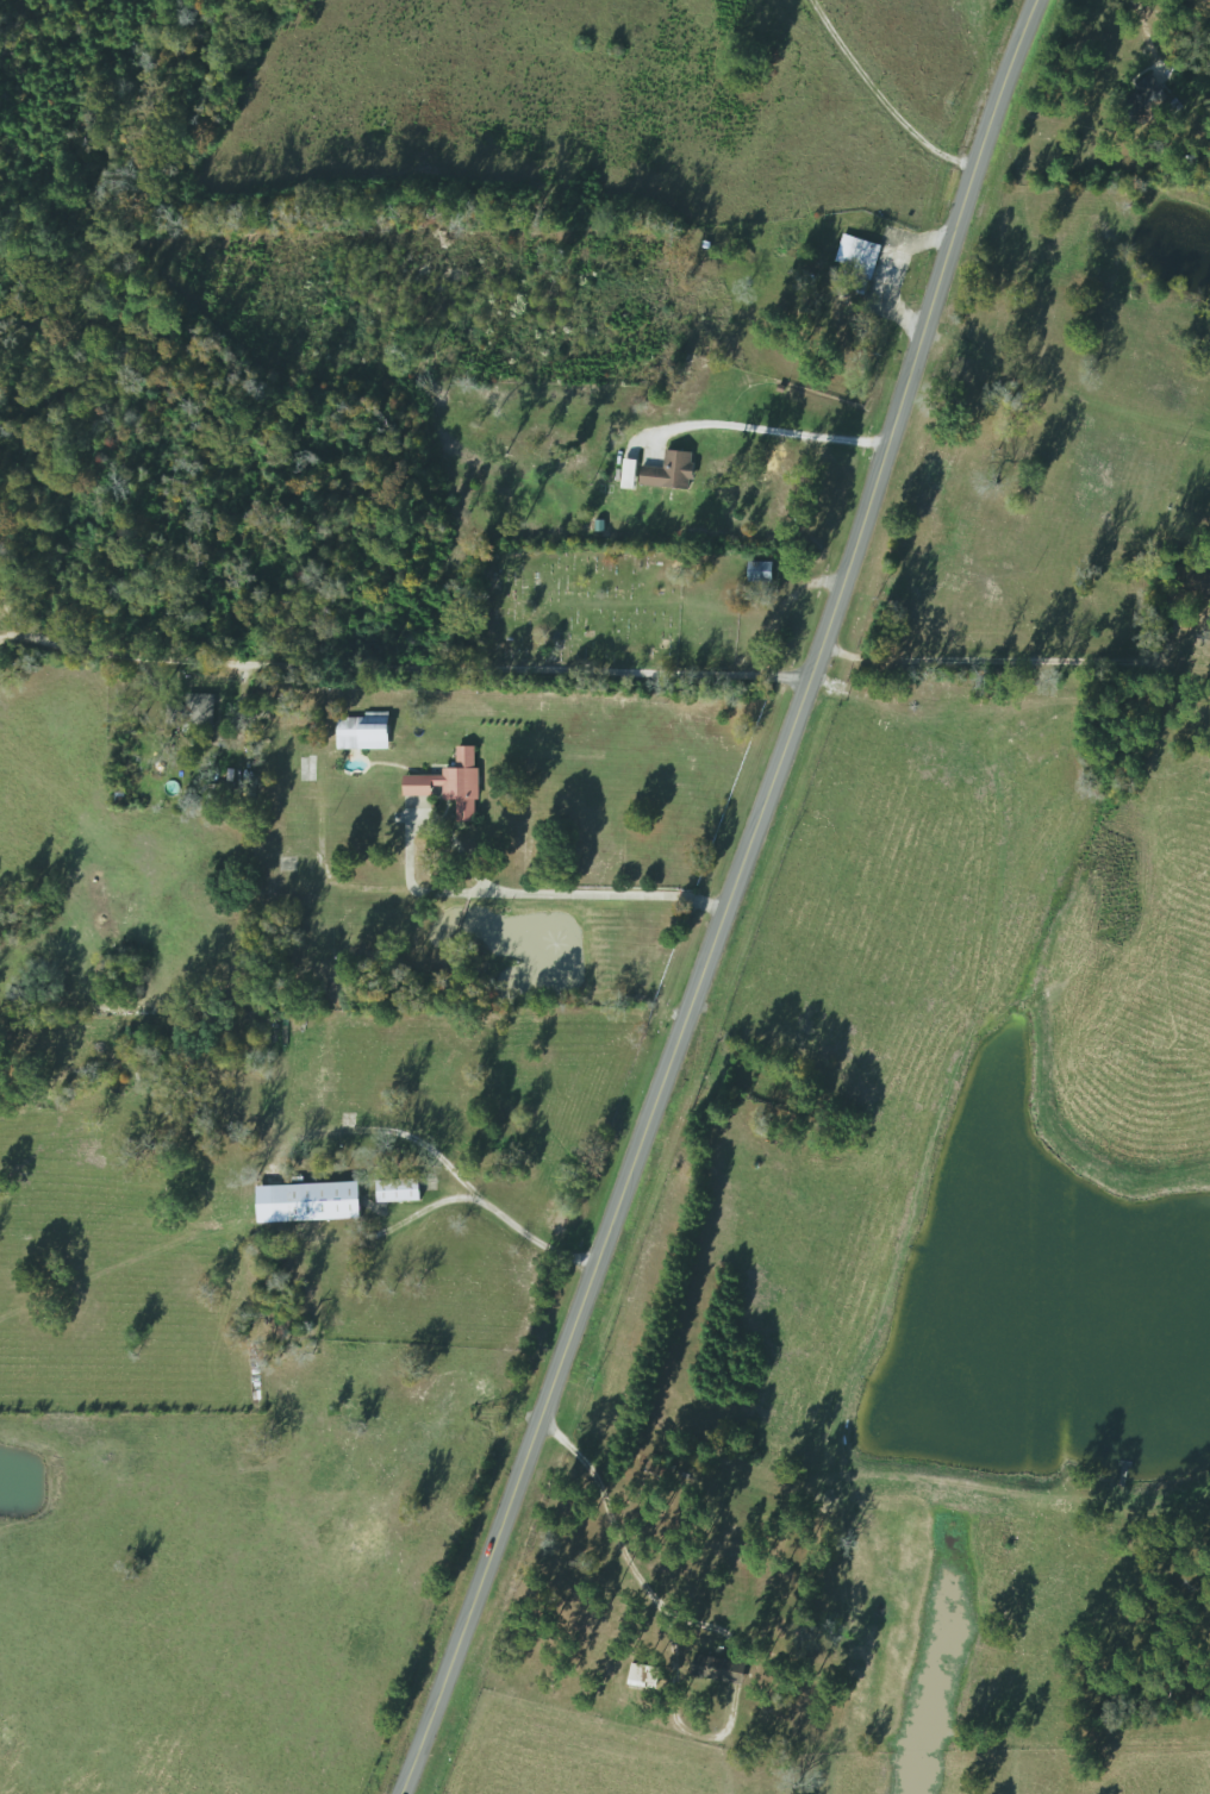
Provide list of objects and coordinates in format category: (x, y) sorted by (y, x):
building: (1160, 74)
building: (860, 258)
road: (765, 423)
building: (759, 573)
building: (1205, 586)
park: (587, 607)
road: (395, 650)
road: (1012, 660)
building: (189, 711)
building: (362, 732)
building: (450, 783)
road: (725, 900)
building: (288, 1055)
building: (391, 1063)
building: (397, 1190)
building: (316, 1202)
building: (640, 1676)

